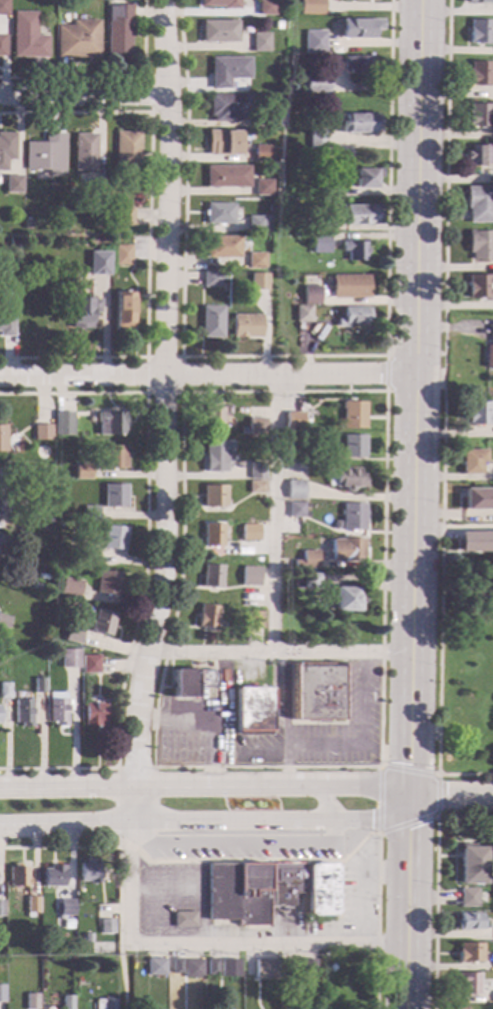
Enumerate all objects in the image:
building: (478, 1)
building: (219, 3)
building: (3, 7)
building: (264, 7)
building: (320, 7)
building: (278, 10)
building: (276, 24)
building: (358, 27)
building: (117, 29)
building: (217, 31)
building: (478, 31)
building: (25, 36)
building: (76, 39)
building: (313, 41)
building: (258, 42)
building: (1, 44)
building: (357, 64)
building: (226, 70)
building: (478, 73)
road: (110, 77)
building: (316, 83)
road: (82, 95)
road: (146, 95)
building: (227, 106)
building: (477, 114)
building: (273, 117)
building: (360, 123)
building: (316, 140)
building: (222, 142)
building: (5, 147)
building: (125, 150)
building: (82, 152)
building: (260, 152)
building: (43, 154)
building: (479, 154)
building: (225, 176)
building: (364, 177)
building: (11, 183)
building: (261, 187)
building: (333, 187)
building: (95, 193)
building: (479, 203)
building: (218, 213)
building: (360, 214)
building: (123, 216)
building: (254, 223)
building: (317, 224)
road: (148, 233)
building: (13, 240)
building: (319, 243)
building: (479, 244)
building: (222, 246)
building: (353, 249)
building: (121, 254)
building: (254, 260)
building: (99, 270)
building: (210, 278)
building: (257, 281)
building: (53, 283)
building: (479, 285)
building: (348, 286)
building: (310, 294)
building: (123, 310)
building: (82, 311)
building: (5, 312)
building: (301, 313)
building: (352, 315)
building: (211, 321)
building: (245, 325)
building: (488, 350)
road: (282, 357)
road: (386, 374)
road: (210, 376)
road: (180, 393)
road: (420, 397)
road: (181, 405)
building: (477, 413)
building: (352, 414)
road: (442, 414)
road: (164, 415)
building: (211, 418)
building: (293, 420)
building: (61, 423)
building: (110, 423)
building: (255, 426)
building: (41, 432)
building: (2, 438)
building: (352, 446)
building: (44, 455)
building: (215, 455)
building: (114, 456)
building: (295, 458)
building: (470, 460)
building: (255, 470)
building: (81, 471)
building: (343, 477)
building: (255, 487)
building: (293, 489)
building: (113, 495)
building: (212, 495)
building: (1, 498)
building: (476, 498)
building: (294, 509)
building: (89, 513)
road: (272, 514)
building: (352, 516)
building: (44, 519)
building: (163, 523)
building: (248, 532)
building: (211, 534)
building: (113, 537)
building: (2, 540)
building: (475, 540)
building: (346, 549)
building: (86, 555)
building: (305, 560)
road: (145, 567)
building: (210, 575)
building: (248, 576)
building: (310, 580)
building: (107, 582)
building: (69, 587)
building: (344, 598)
building: (206, 616)
building: (252, 619)
building: (3, 620)
building: (101, 621)
building: (72, 635)
road: (280, 653)
building: (69, 658)
building: (89, 664)
park: (462, 674)
building: (190, 682)
building: (37, 686)
road: (219, 687)
building: (3, 690)
building: (316, 692)
road: (361, 698)
road: (284, 699)
building: (57, 707)
building: (251, 708)
building: (22, 712)
building: (93, 714)
road: (190, 720)
road: (350, 744)
road: (249, 754)
road: (285, 766)
road: (213, 771)
road: (207, 788)
road: (155, 794)
traffic signals: (415, 795)
road: (454, 795)
road: (324, 805)
road: (379, 821)
road: (211, 825)
road: (236, 841)
parking lot: (244, 845)
road: (280, 860)
building: (471, 864)
building: (87, 872)
building: (17, 876)
building: (52, 876)
road: (362, 881)
building: (285, 883)
road: (190, 890)
building: (320, 890)
parking lot: (358, 891)
building: (237, 893)
parking lot: (168, 895)
building: (467, 897)
road: (338, 901)
road: (412, 901)
building: (31, 904)
building: (65, 907)
building: (1, 908)
road: (435, 912)
building: (183, 919)
building: (471, 922)
building: (106, 926)
building: (86, 938)
road: (210, 942)
building: (469, 952)
building: (93, 965)
building: (211, 965)
building: (155, 966)
building: (176, 966)
building: (306, 966)
building: (229, 967)
building: (330, 967)
building: (192, 968)
building: (286, 968)
building: (264, 969)
road: (121, 973)
building: (468, 983)
building: (492, 991)
building: (1, 993)
building: (30, 1001)
building: (66, 1002)
building: (104, 1003)
building: (461, 1008)

